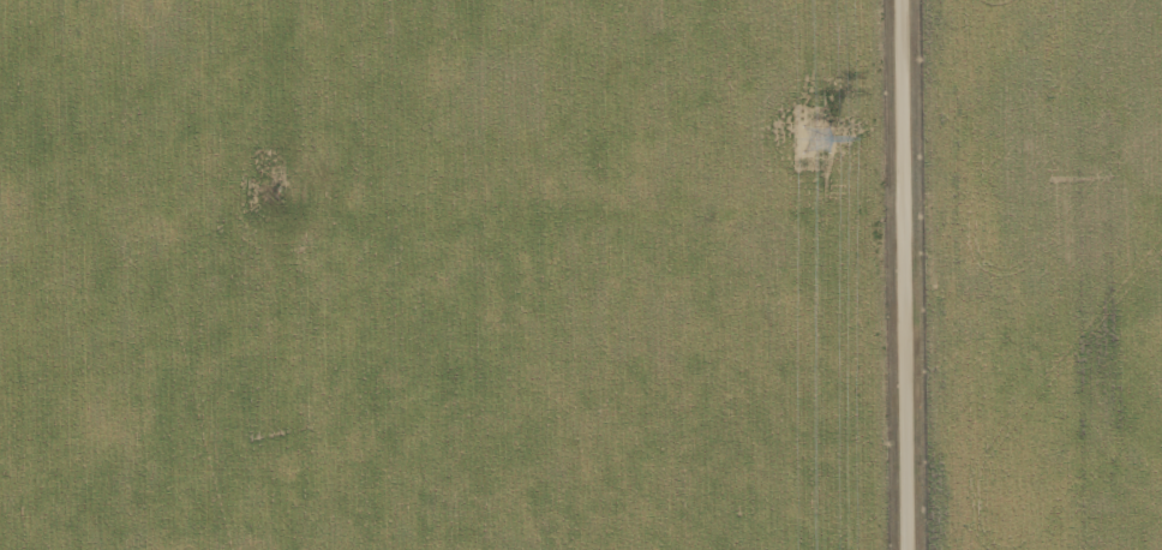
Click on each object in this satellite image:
power tower: (815, 138)
road: (910, 274)

